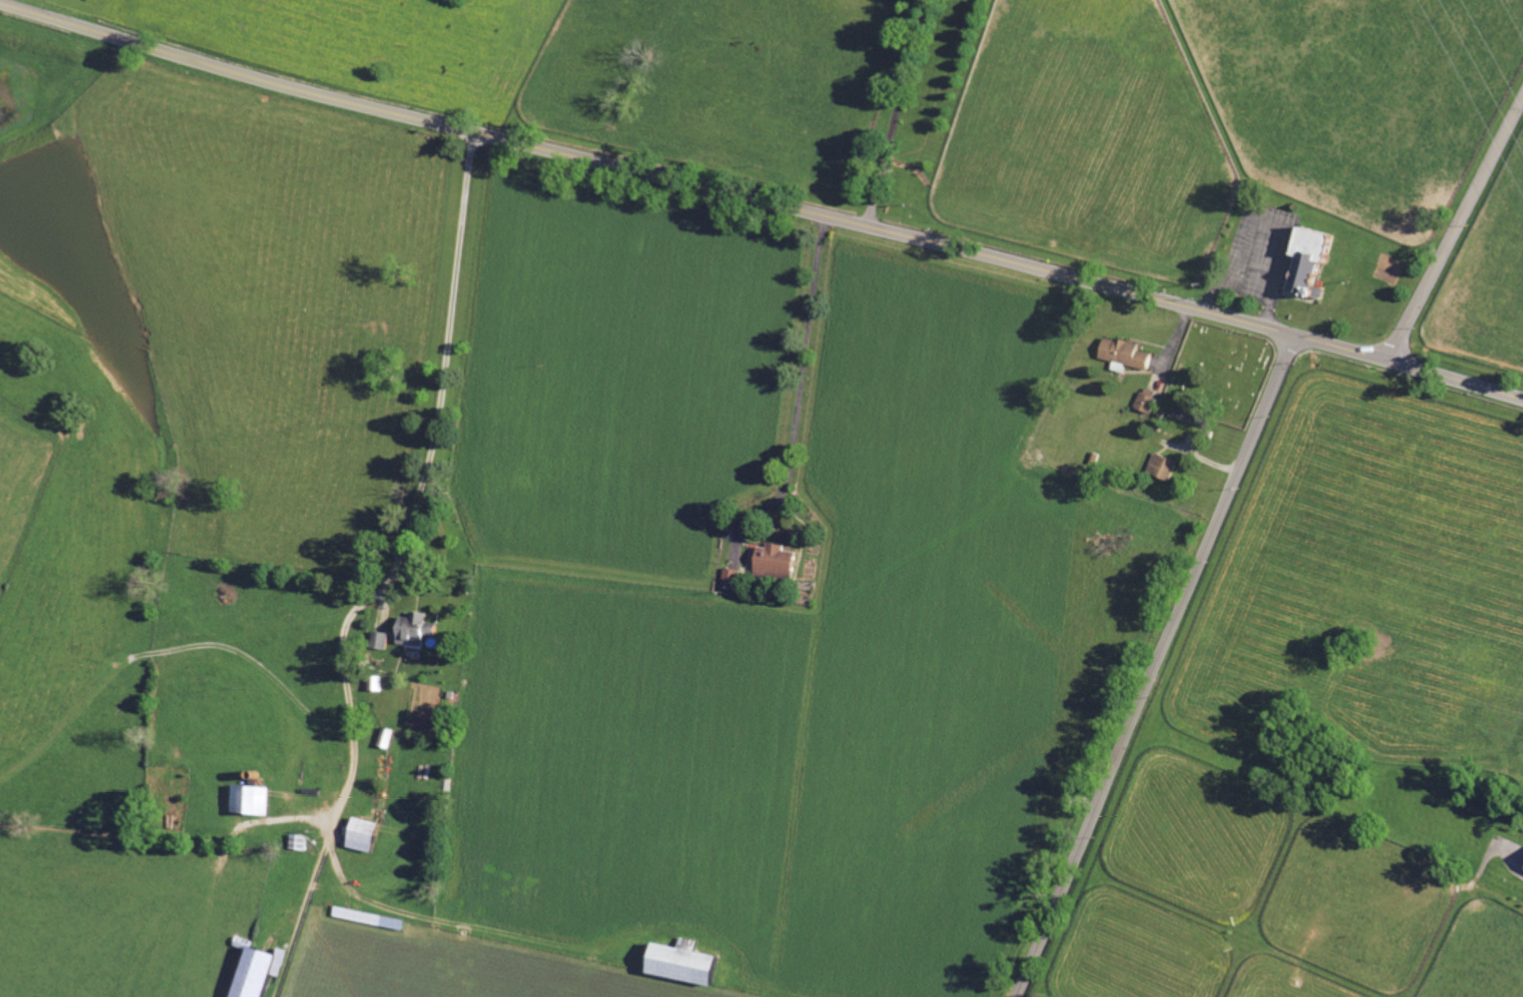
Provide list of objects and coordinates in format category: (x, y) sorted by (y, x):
road: (895, 114)
road: (760, 203)
road: (1456, 234)
building: (1304, 258)
building: (1120, 353)
park: (1219, 373)
road: (800, 393)
building: (1159, 466)
road: (418, 493)
building: (771, 561)
building: (412, 630)
building: (378, 640)
road: (1155, 666)
building: (246, 799)
building: (358, 834)
building: (1521, 866)
building: (683, 944)
building: (275, 962)
building: (673, 963)
building: (247, 973)

